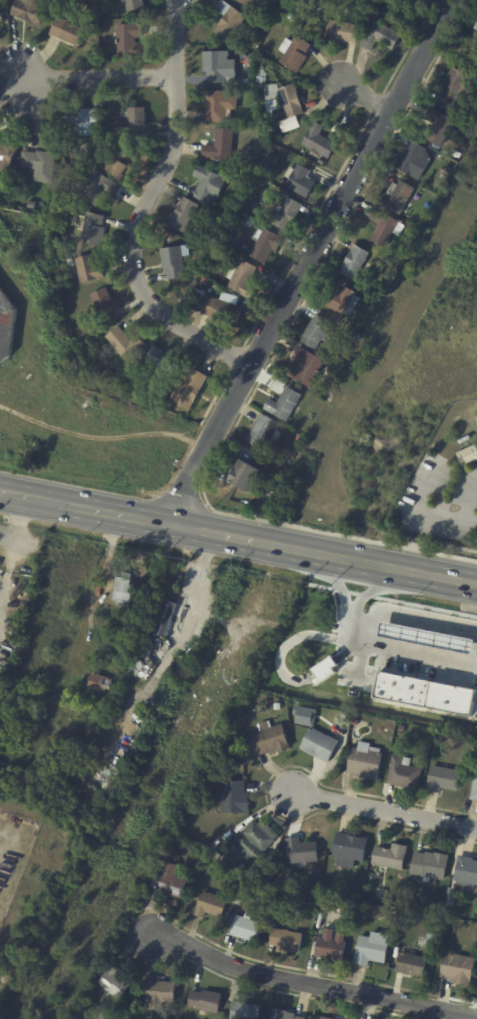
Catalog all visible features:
building: (133, 4)
building: (261, 6)
building: (28, 10)
building: (0, 16)
building: (229, 21)
building: (263, 24)
building: (476, 27)
building: (67, 31)
building: (342, 31)
building: (380, 36)
building: (128, 39)
building: (293, 53)
building: (216, 68)
road: (96, 78)
building: (260, 78)
building: (454, 90)
building: (270, 92)
building: (259, 94)
road: (366, 98)
building: (291, 100)
building: (218, 105)
building: (80, 122)
building: (135, 122)
building: (439, 127)
building: (285, 129)
building: (262, 135)
building: (318, 141)
building: (463, 144)
building: (219, 145)
building: (453, 153)
building: (6, 154)
building: (84, 155)
building: (271, 159)
building: (413, 160)
building: (320, 162)
building: (38, 164)
building: (118, 164)
building: (446, 170)
building: (264, 172)
building: (298, 180)
building: (208, 184)
building: (99, 189)
building: (396, 196)
building: (30, 205)
building: (46, 208)
road: (143, 210)
building: (183, 214)
building: (284, 214)
building: (243, 215)
building: (235, 220)
building: (382, 227)
building: (92, 230)
building: (167, 234)
building: (411, 236)
building: (226, 239)
building: (265, 245)
building: (244, 248)
building: (235, 254)
road: (308, 260)
building: (68, 262)
building: (172, 262)
building: (354, 262)
building: (210, 266)
building: (87, 269)
building: (241, 279)
building: (201, 280)
building: (215, 286)
building: (212, 293)
building: (199, 295)
building: (341, 300)
building: (103, 305)
building: (187, 305)
building: (221, 309)
building: (372, 309)
building: (6, 326)
building: (316, 332)
building: (353, 338)
building: (122, 343)
building: (161, 360)
building: (306, 367)
building: (107, 374)
building: (277, 386)
building: (188, 390)
building: (319, 395)
building: (283, 404)
building: (311, 416)
building: (264, 432)
building: (467, 456)
building: (244, 476)
road: (471, 502)
road: (415, 513)
road: (238, 536)
road: (343, 583)
road: (373, 585)
road: (196, 586)
building: (122, 589)
building: (164, 617)
building: (157, 638)
road: (405, 647)
building: (141, 664)
building: (173, 667)
building: (416, 671)
building: (99, 682)
building: (334, 690)
building: (277, 706)
building: (292, 708)
building: (303, 715)
building: (340, 717)
building: (400, 728)
building: (138, 734)
building: (455, 737)
building: (269, 738)
building: (319, 744)
building: (476, 750)
building: (111, 755)
building: (364, 761)
building: (403, 772)
building: (442, 778)
building: (474, 787)
building: (233, 796)
road: (382, 811)
building: (180, 842)
building: (251, 843)
building: (349, 849)
building: (300, 851)
building: (390, 856)
building: (430, 865)
building: (466, 871)
building: (168, 881)
building: (296, 891)
building: (342, 891)
building: (450, 896)
building: (388, 902)
building: (410, 902)
building: (327, 904)
building: (210, 905)
building: (379, 909)
building: (408, 915)
building: (246, 929)
building: (285, 940)
building: (329, 946)
building: (371, 948)
building: (409, 966)
building: (458, 968)
road: (310, 981)
building: (113, 982)
building: (159, 994)
building: (204, 1001)
building: (244, 1011)
building: (284, 1015)
building: (323, 1018)

